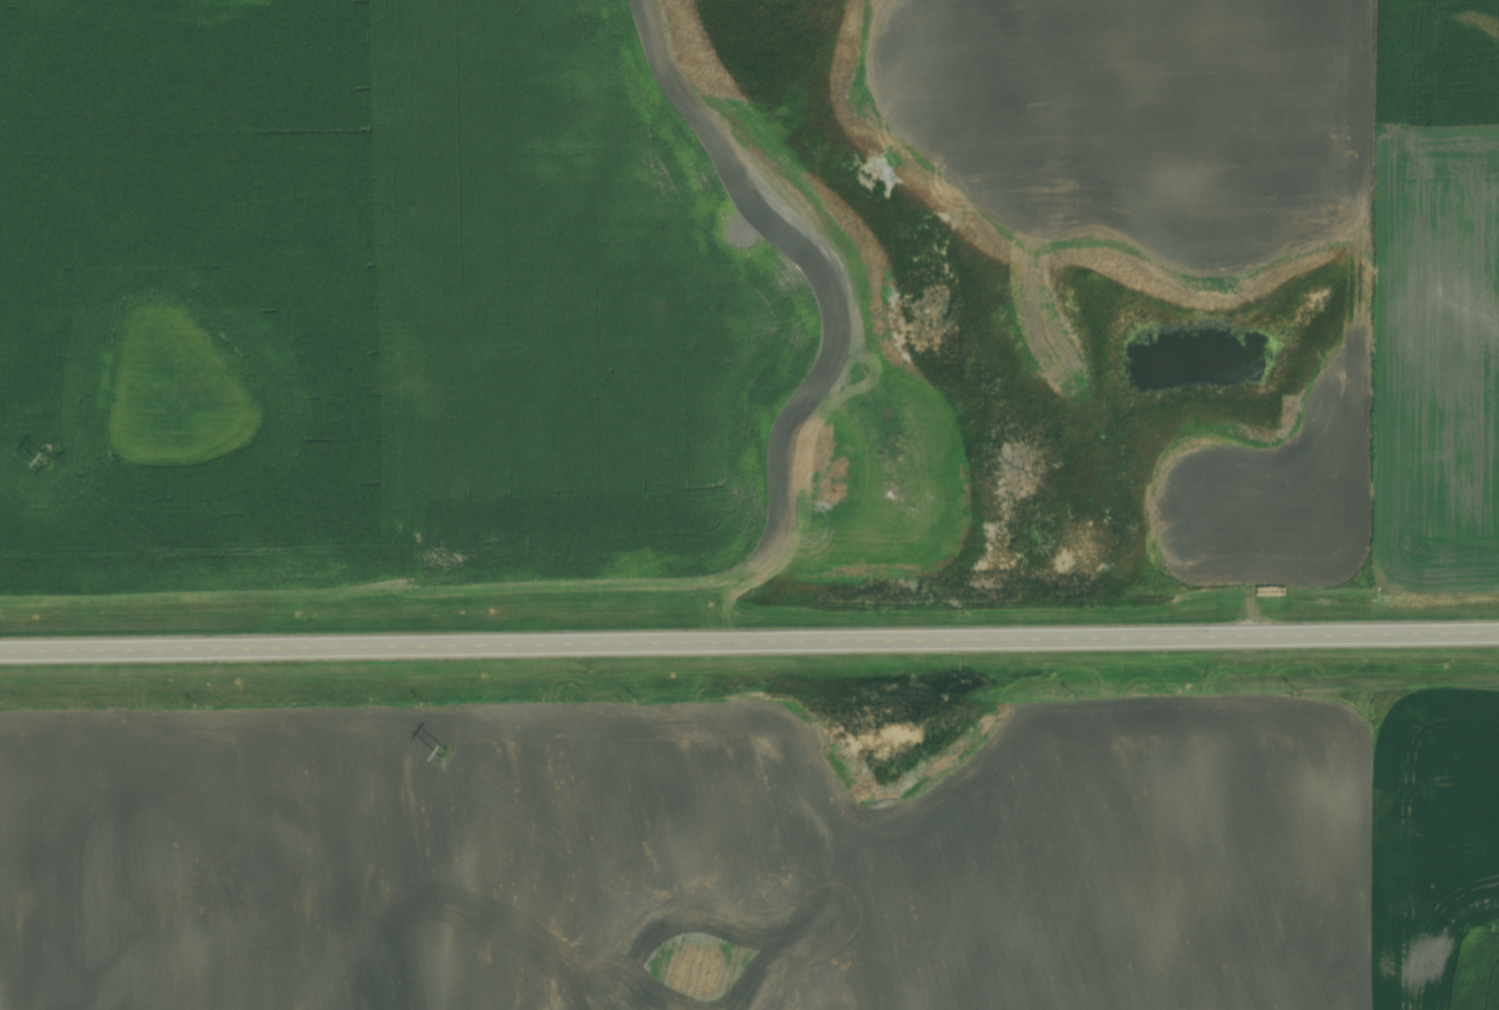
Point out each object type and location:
power tower: (42, 458)
road: (749, 647)
power tower: (443, 752)

